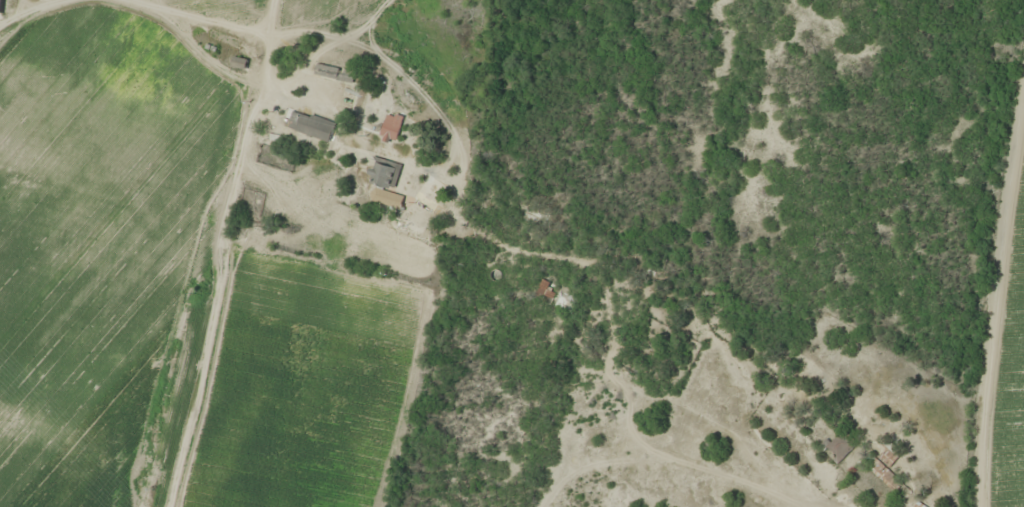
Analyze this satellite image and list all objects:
road: (233, 195)

